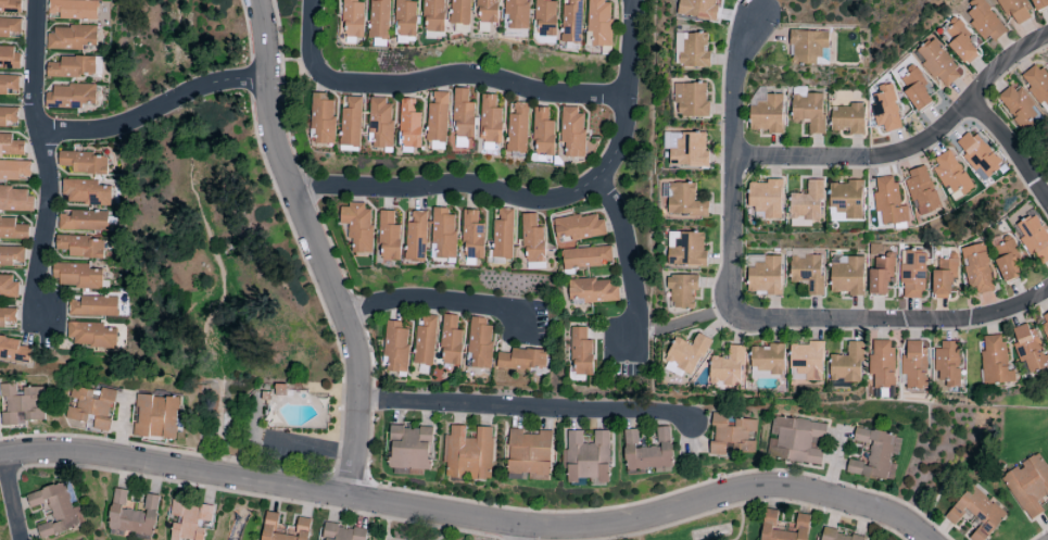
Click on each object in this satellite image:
road: (316, 3)
building: (1039, 4)
building: (10, 5)
building: (697, 9)
building: (72, 10)
building: (1014, 10)
building: (487, 11)
building: (460, 12)
building: (516, 13)
building: (433, 15)
building: (545, 17)
building: (353, 18)
building: (379, 18)
building: (405, 18)
building: (984, 20)
building: (571, 21)
building: (598, 22)
building: (10, 28)
building: (71, 37)
building: (960, 43)
building: (807, 46)
building: (694, 50)
building: (8, 56)
building: (937, 64)
building: (72, 67)
road: (440, 77)
building: (1037, 84)
building: (9, 85)
building: (916, 90)
building: (70, 96)
building: (691, 100)
building: (1017, 105)
road: (159, 108)
building: (885, 110)
building: (808, 111)
building: (463, 115)
building: (767, 115)
building: (8, 117)
building: (438, 117)
building: (323, 118)
building: (847, 118)
building: (351, 121)
building: (491, 121)
building: (380, 123)
building: (409, 125)
building: (518, 128)
building: (572, 130)
building: (543, 133)
building: (10, 146)
road: (1012, 147)
building: (687, 150)
road: (910, 150)
building: (977, 154)
road: (45, 155)
building: (84, 163)
building: (13, 169)
building: (951, 174)
building: (921, 191)
building: (85, 192)
building: (766, 198)
building: (15, 199)
building: (846, 200)
road: (542, 201)
building: (681, 201)
building: (807, 202)
building: (888, 202)
building: (83, 221)
building: (357, 226)
building: (579, 227)
building: (12, 229)
building: (443, 233)
building: (502, 234)
building: (415, 236)
building: (471, 236)
building: (389, 237)
building: (1033, 238)
building: (531, 240)
building: (81, 247)
road: (317, 248)
building: (685, 249)
building: (11, 256)
building: (584, 256)
building: (1005, 256)
road: (630, 259)
building: (975, 268)
building: (879, 271)
building: (806, 273)
building: (846, 275)
building: (911, 275)
building: (77, 277)
building: (765, 277)
building: (943, 278)
building: (8, 285)
building: (592, 290)
building: (682, 291)
road: (437, 299)
building: (93, 306)
road: (745, 312)
building: (7, 317)
road: (689, 319)
building: (1044, 323)
building: (92, 335)
building: (425, 339)
building: (451, 341)
building: (479, 342)
building: (395, 346)
building: (13, 349)
building: (1028, 349)
building: (581, 352)
building: (686, 353)
building: (767, 359)
building: (521, 360)
building: (995, 361)
building: (806, 362)
building: (881, 363)
building: (947, 363)
building: (847, 364)
building: (913, 365)
building: (728, 369)
building: (21, 404)
road: (527, 406)
building: (90, 407)
building: (155, 417)
building: (731, 435)
building: (795, 440)
building: (409, 448)
building: (647, 451)
building: (529, 453)
building: (468, 454)
building: (875, 455)
building: (588, 457)
road: (832, 467)
building: (1028, 485)
road: (12, 499)
building: (55, 511)
building: (976, 513)
building: (131, 515)
building: (188, 519)
road: (469, 520)
building: (783, 527)
building: (283, 528)
building: (342, 532)
road: (518, 535)
building: (837, 536)

